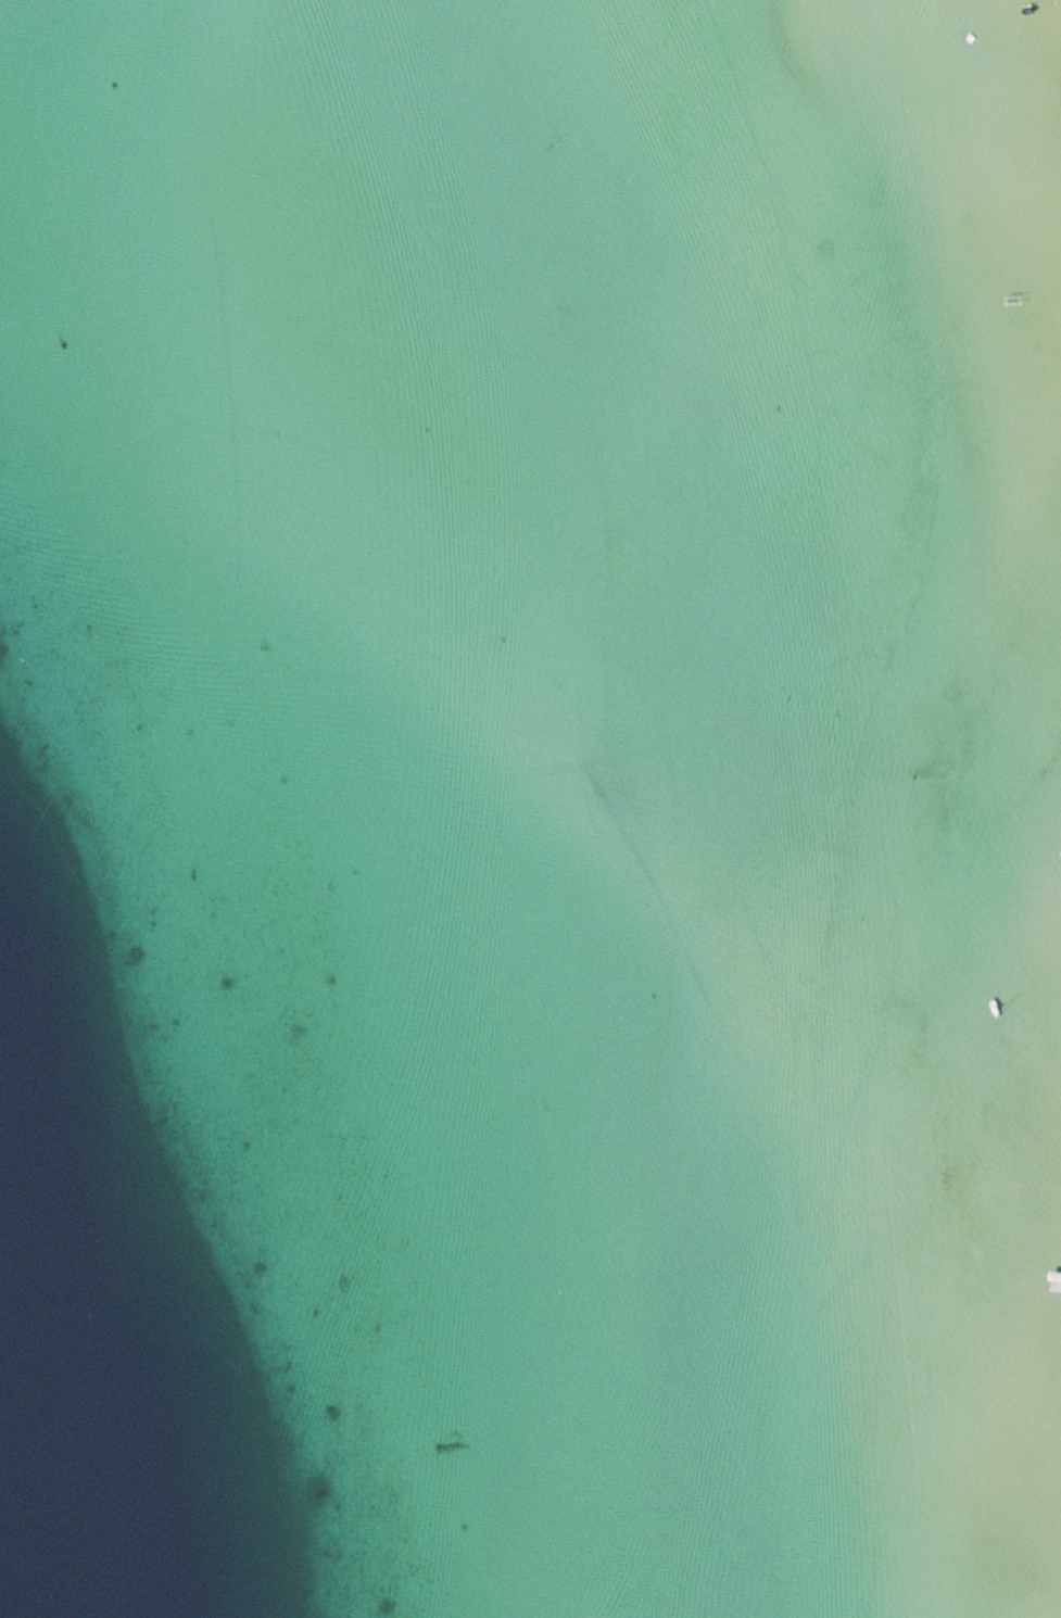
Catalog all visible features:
building: (1057, 1281)

